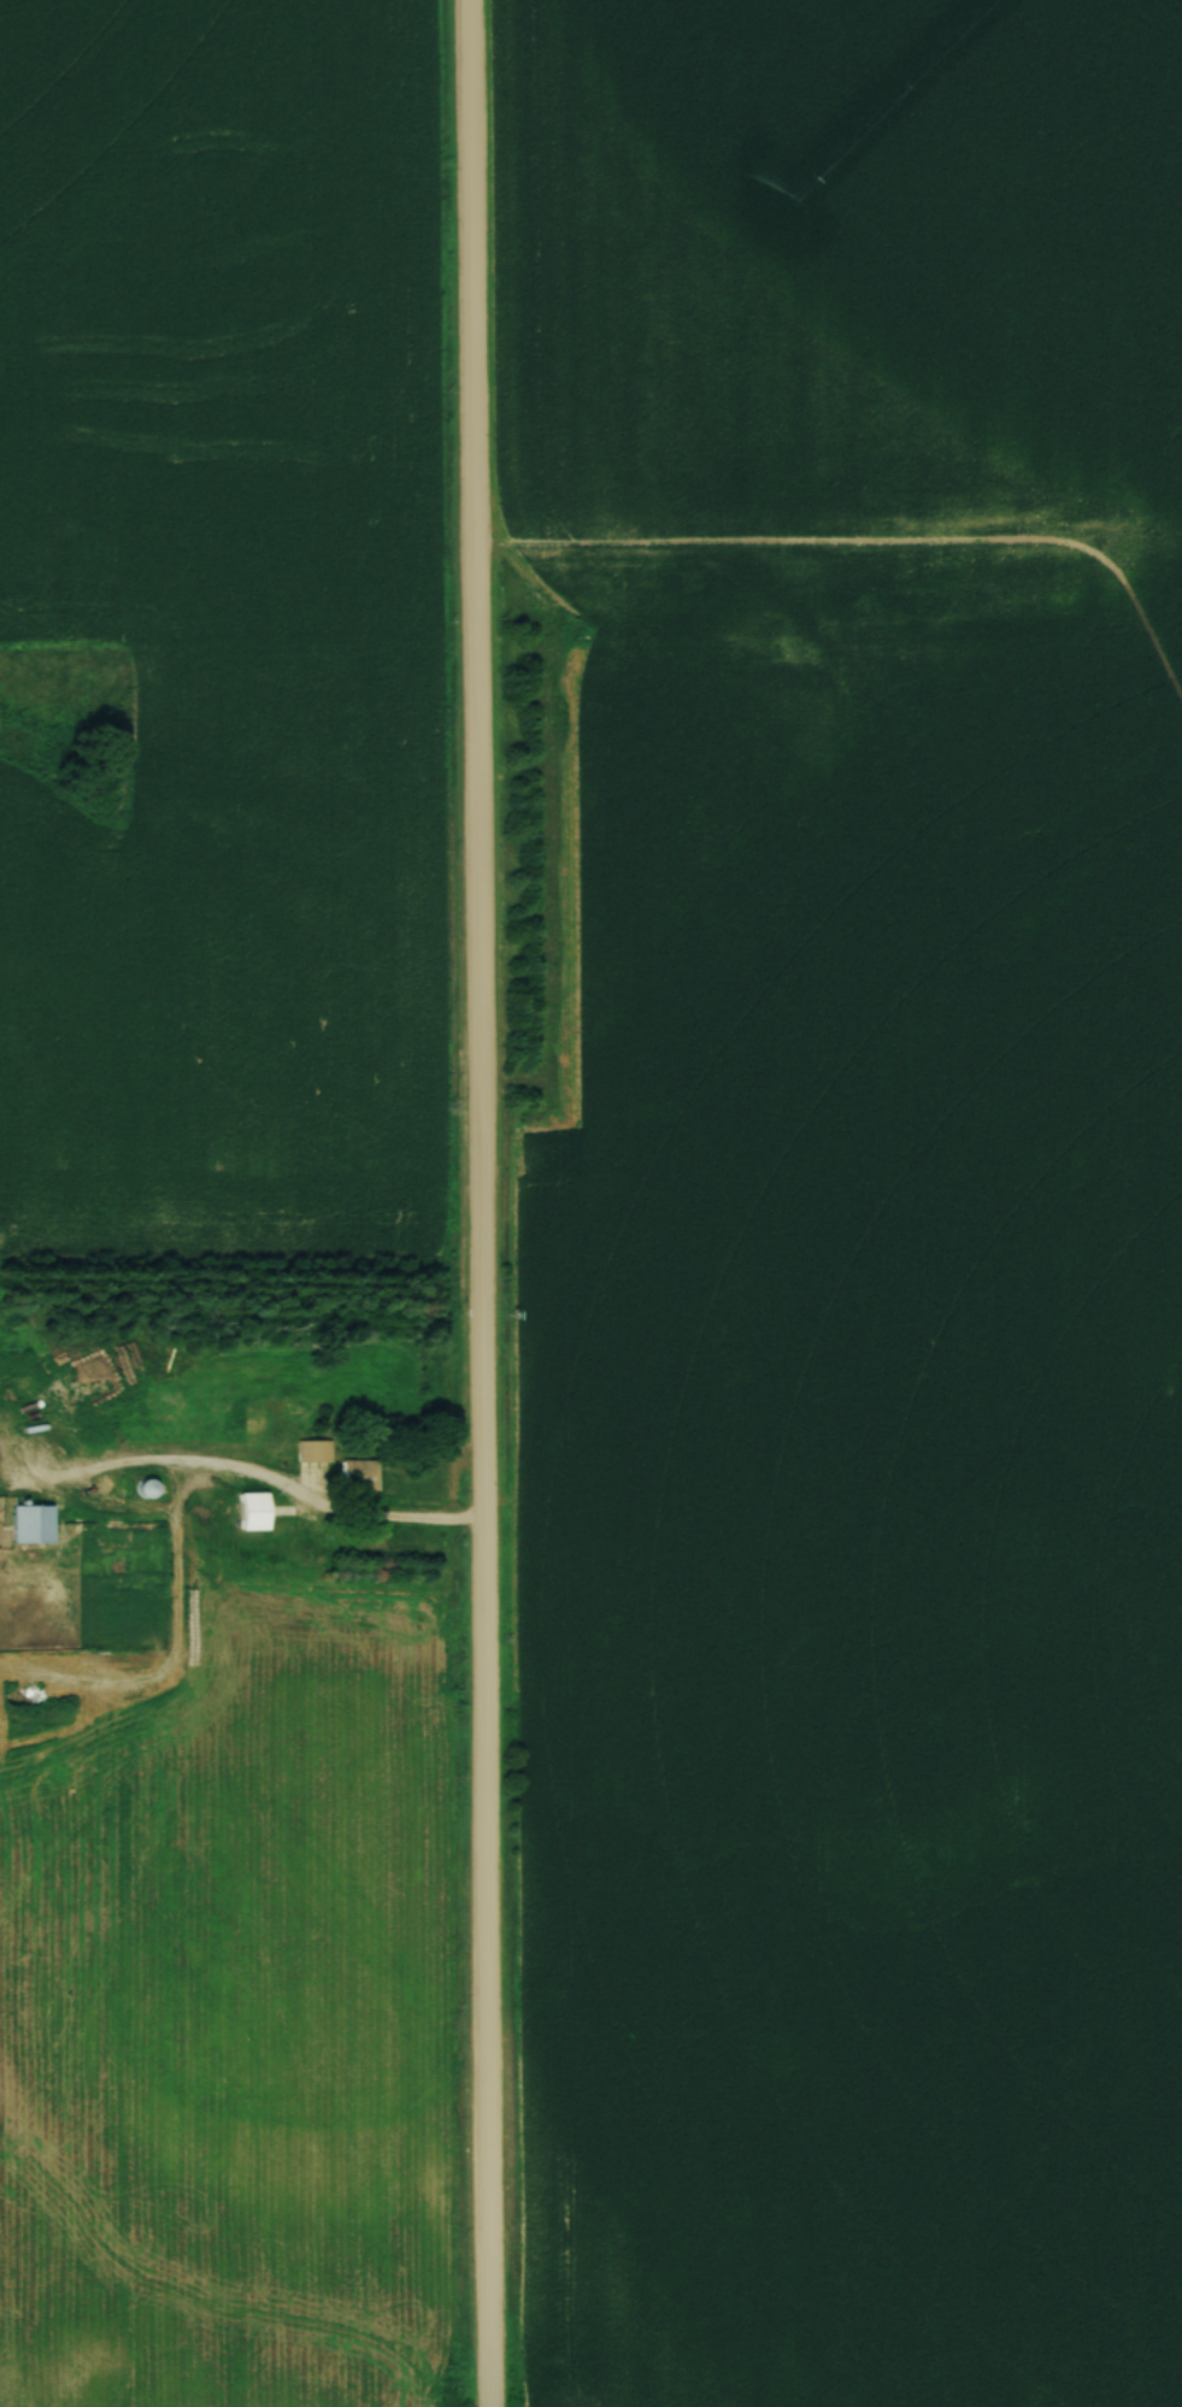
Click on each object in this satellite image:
road: (478, 1202)
building: (311, 1450)
building: (357, 1475)
building: (141, 1488)
building: (248, 1511)
building: (28, 1523)

